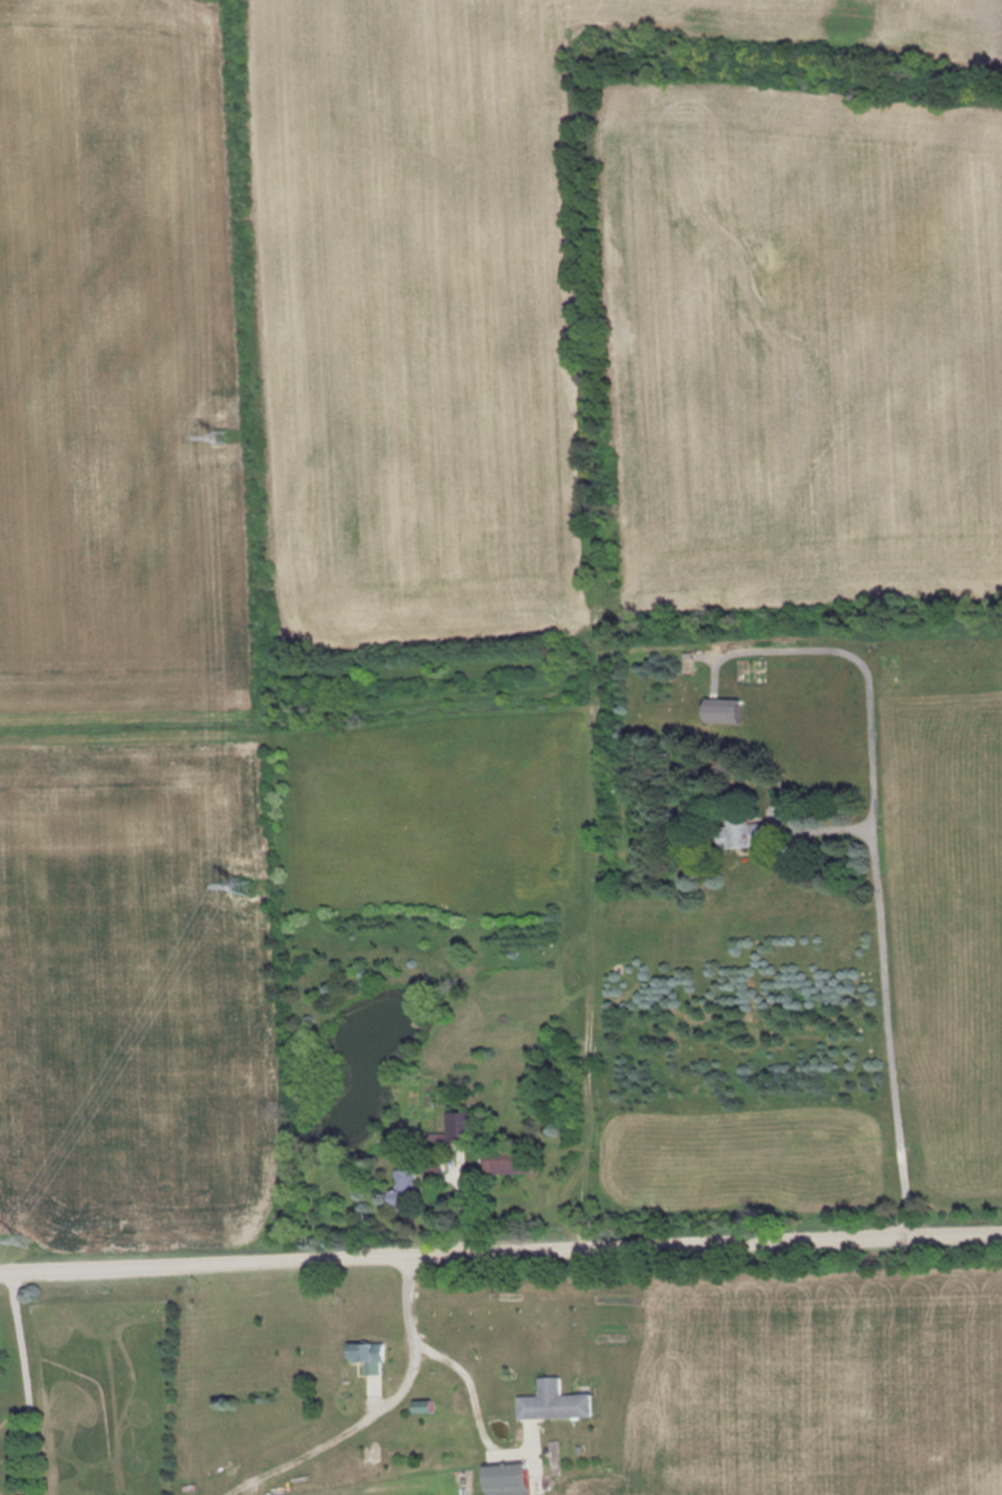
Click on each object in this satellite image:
power tower: (212, 435)
road: (867, 667)
building: (721, 711)
building: (742, 834)
power tower: (241, 885)
road: (887, 985)
building: (460, 1128)
building: (509, 1164)
building: (405, 1195)
road: (461, 1201)
power tower: (25, 1238)
road: (500, 1251)
road: (430, 1348)
building: (370, 1358)
road: (25, 1383)
building: (556, 1405)
building: (419, 1407)
road: (351, 1427)
building: (510, 1481)

